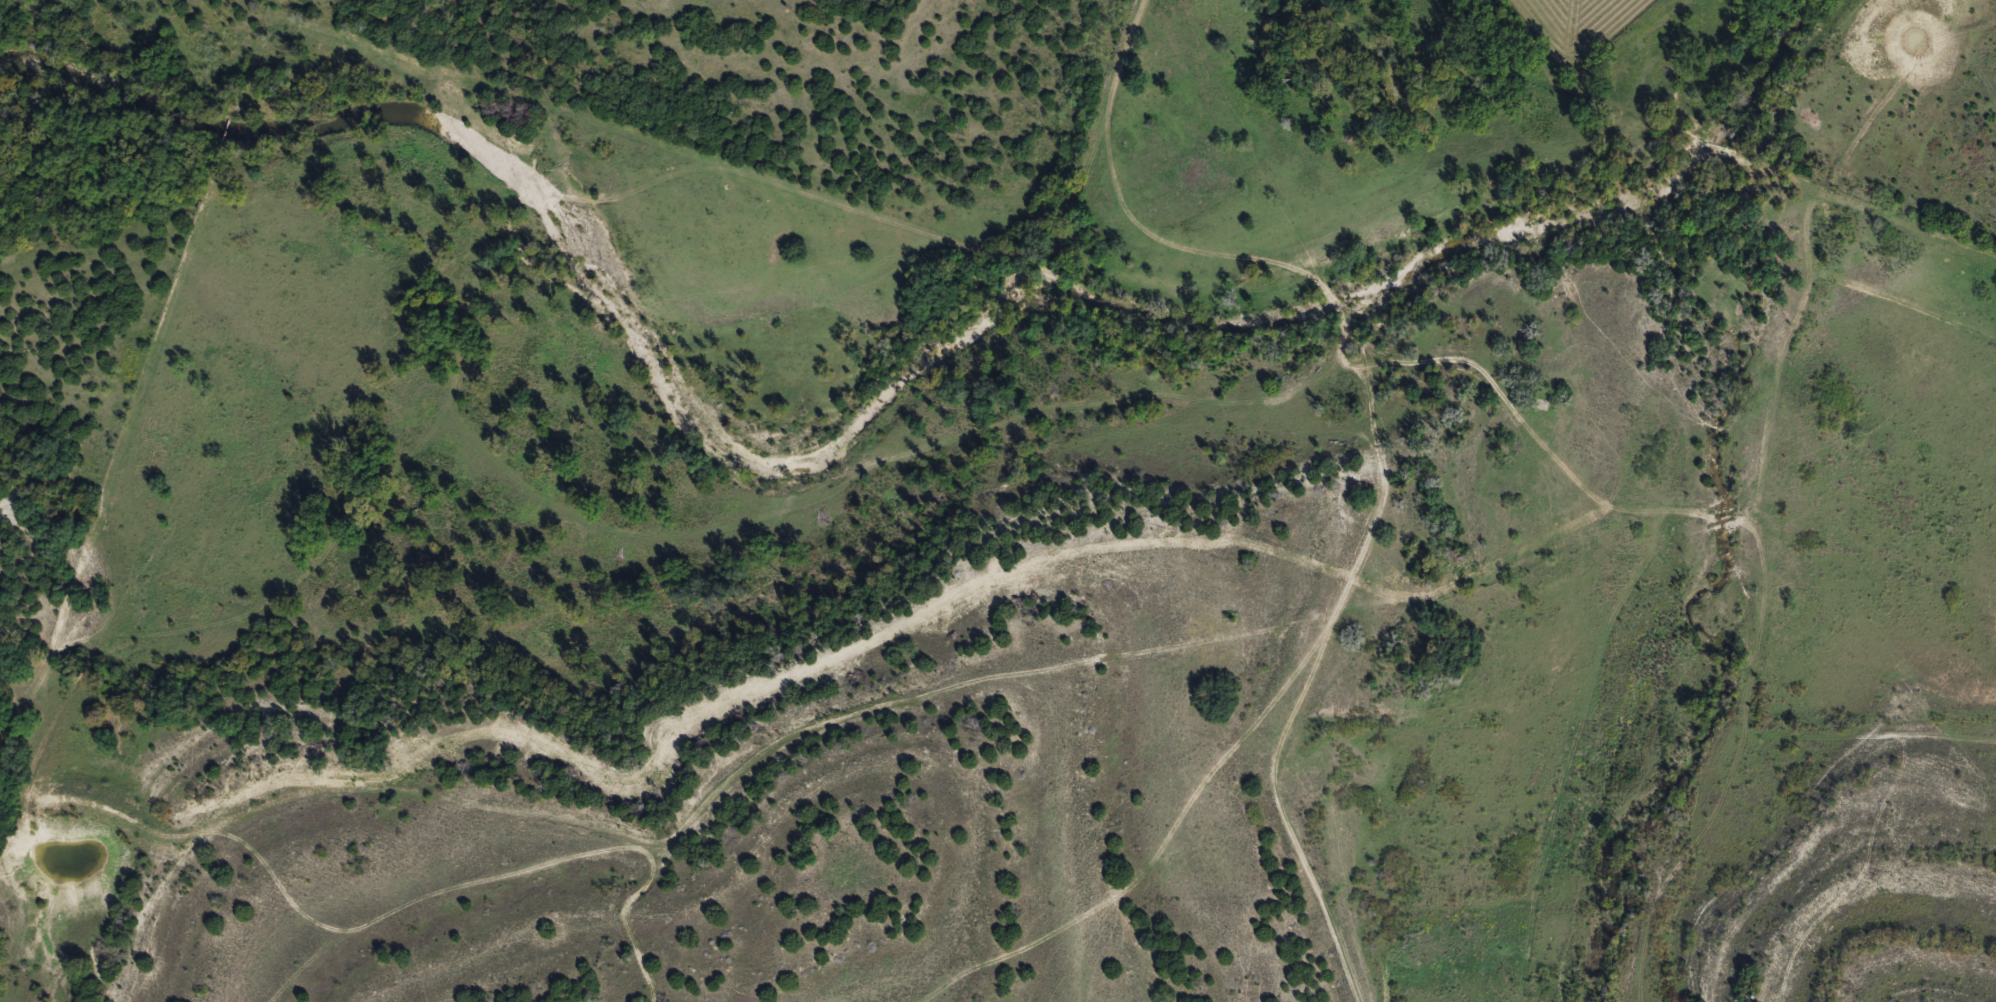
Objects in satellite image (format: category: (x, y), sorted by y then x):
road: (697, 590)

